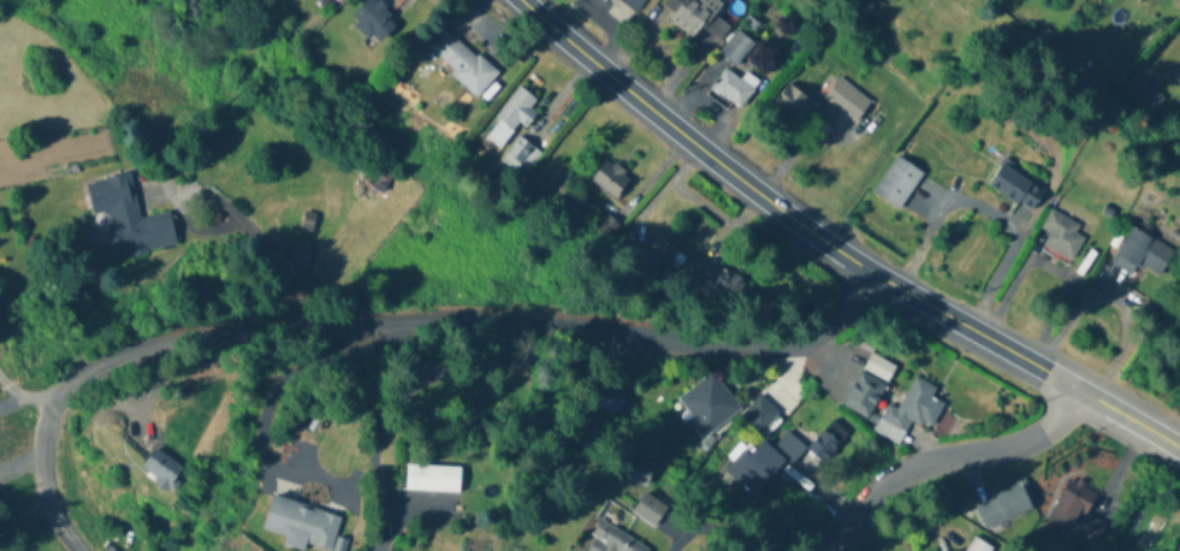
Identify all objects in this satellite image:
building: (328, 2)
building: (633, 4)
building: (695, 16)
building: (372, 19)
building: (735, 48)
building: (461, 61)
building: (735, 87)
building: (847, 100)
building: (793, 103)
building: (516, 109)
building: (520, 156)
building: (378, 176)
building: (610, 179)
building: (896, 184)
building: (1015, 188)
building: (129, 218)
road: (982, 218)
building: (1060, 236)
road: (835, 248)
building: (1143, 255)
building: (298, 260)
building: (723, 284)
road: (389, 324)
road: (416, 384)
building: (862, 396)
road: (23, 399)
building: (707, 405)
building: (907, 413)
building: (760, 416)
building: (812, 445)
road: (947, 457)
building: (753, 467)
building: (162, 469)
building: (432, 479)
building: (1003, 505)
building: (650, 509)
building: (1072, 520)
building: (302, 526)
road: (719, 532)
building: (612, 540)
building: (977, 546)

